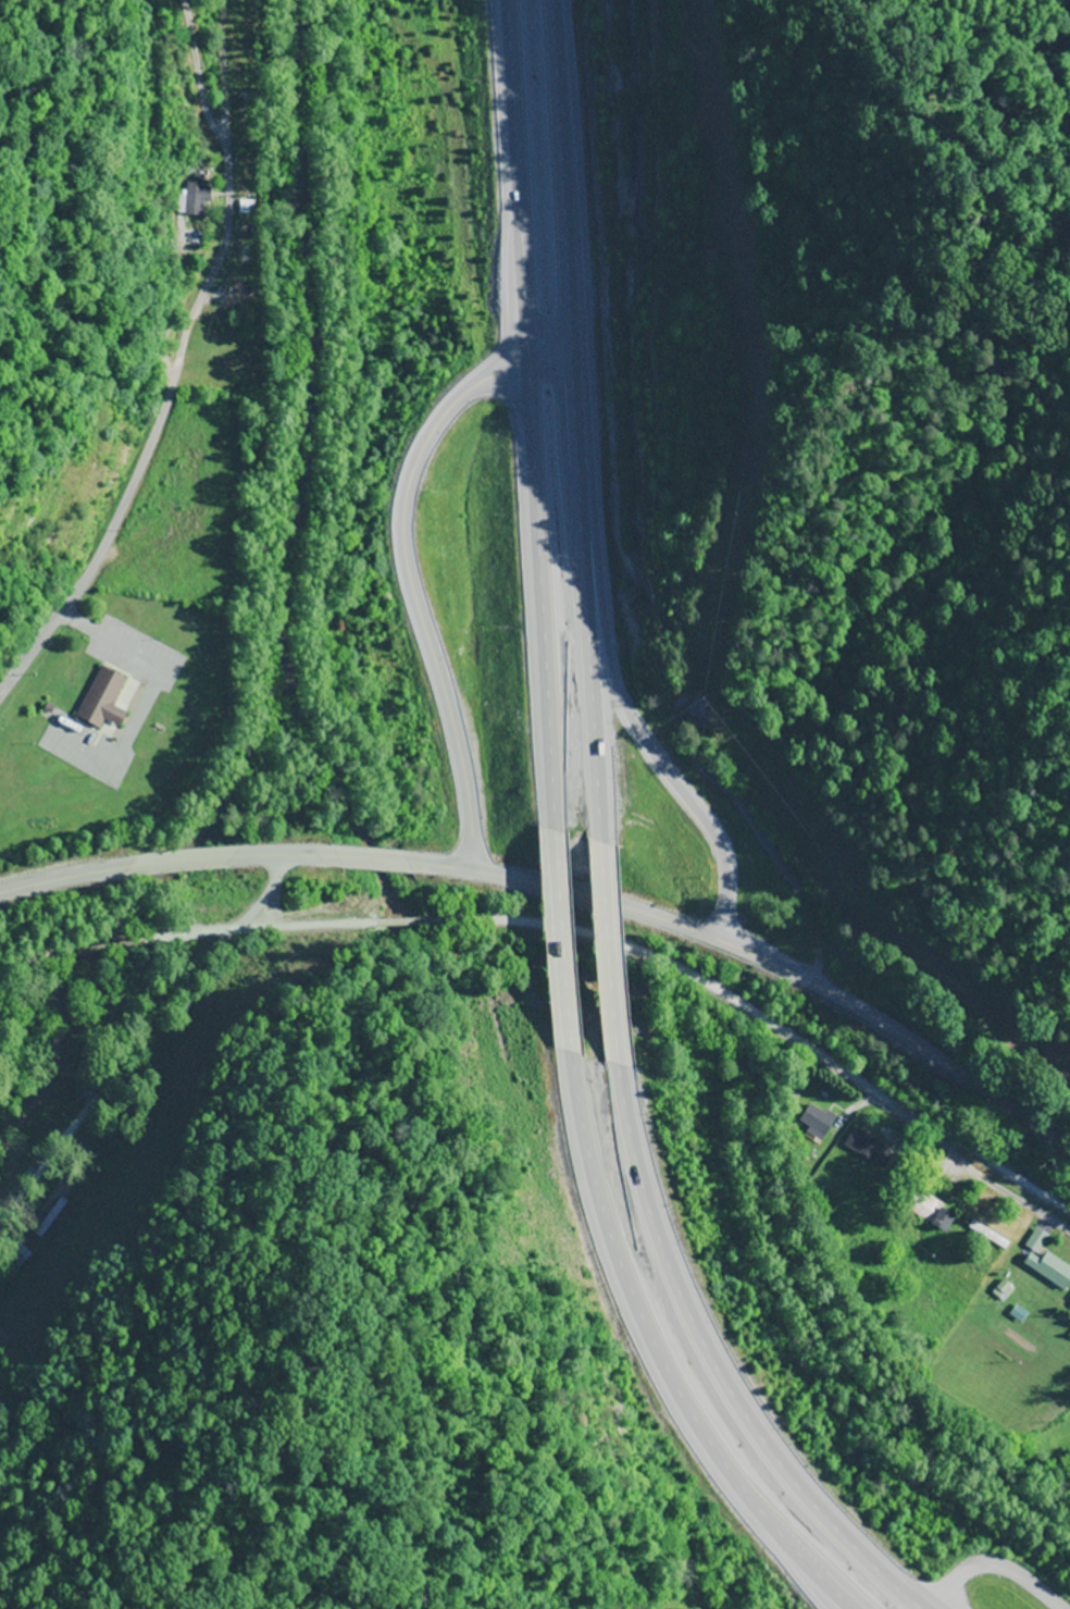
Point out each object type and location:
road: (174, 372)
building: (227, 380)
road: (528, 428)
road: (570, 429)
road: (415, 584)
building: (102, 701)
road: (655, 765)
road: (370, 863)
road: (559, 936)
road: (569, 936)
road: (602, 944)
road: (139, 1038)
road: (906, 1042)
road: (868, 1091)
building: (816, 1119)
building: (869, 1148)
road: (968, 1168)
building: (929, 1211)
building: (50, 1218)
building: (988, 1235)
building: (16, 1257)
building: (1045, 1262)
building: (1003, 1290)
road: (648, 1340)
road: (701, 1351)
road: (996, 1571)

